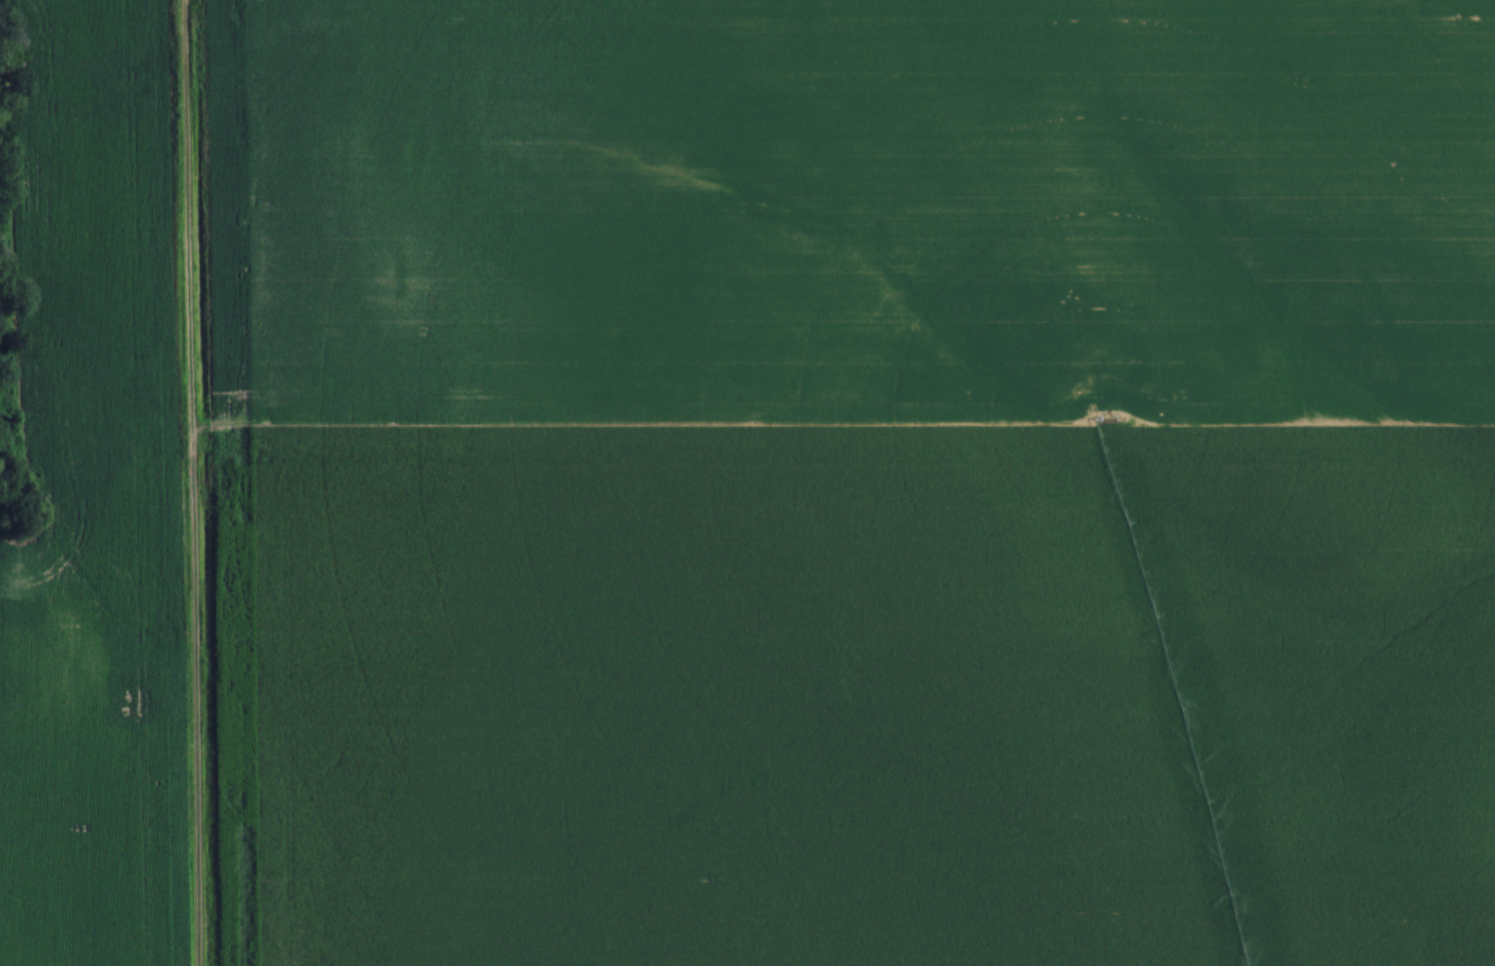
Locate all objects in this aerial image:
road: (189, 482)

